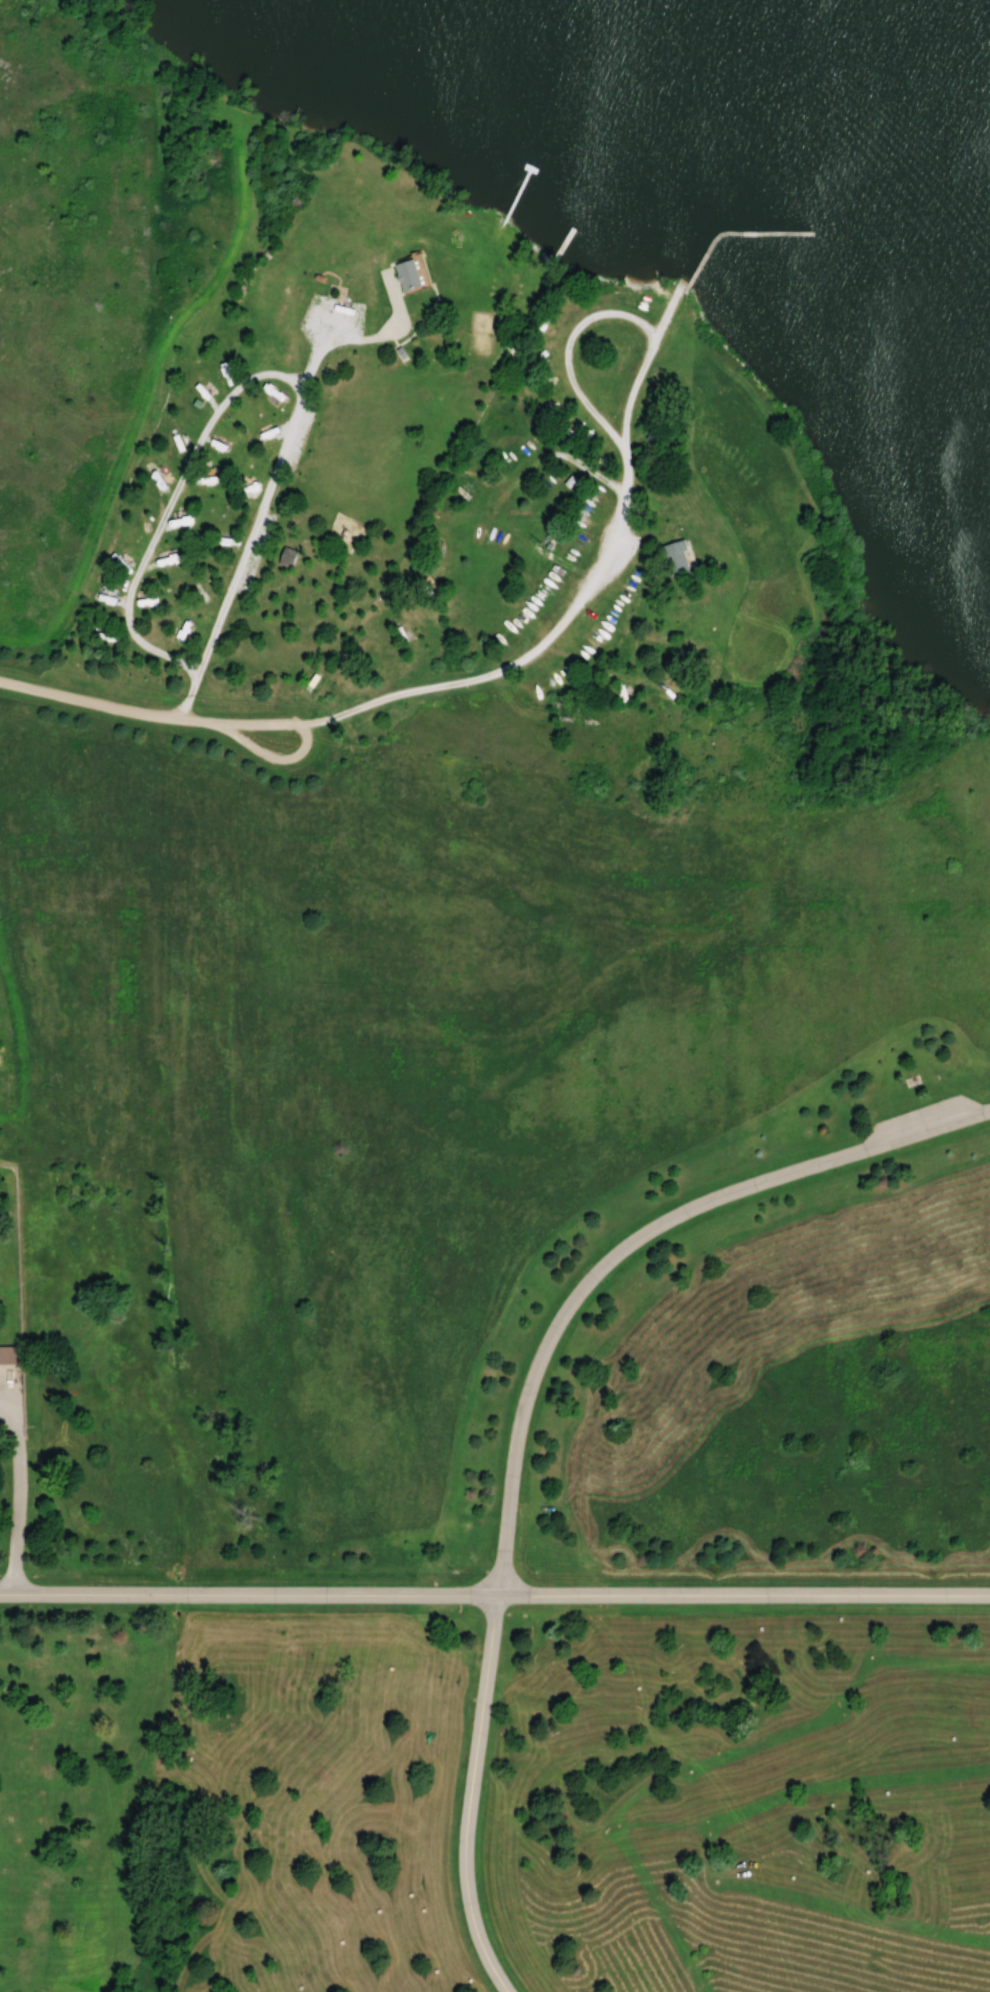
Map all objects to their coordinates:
building: (407, 275)
road: (568, 348)
road: (168, 502)
road: (253, 519)
building: (287, 557)
building: (675, 558)
building: (182, 632)
road: (461, 680)
road: (264, 754)
park: (495, 996)
road: (691, 1207)
building: (7, 1355)
road: (494, 1594)
road: (517, 1702)
road: (479, 1725)
road: (161, 1775)

